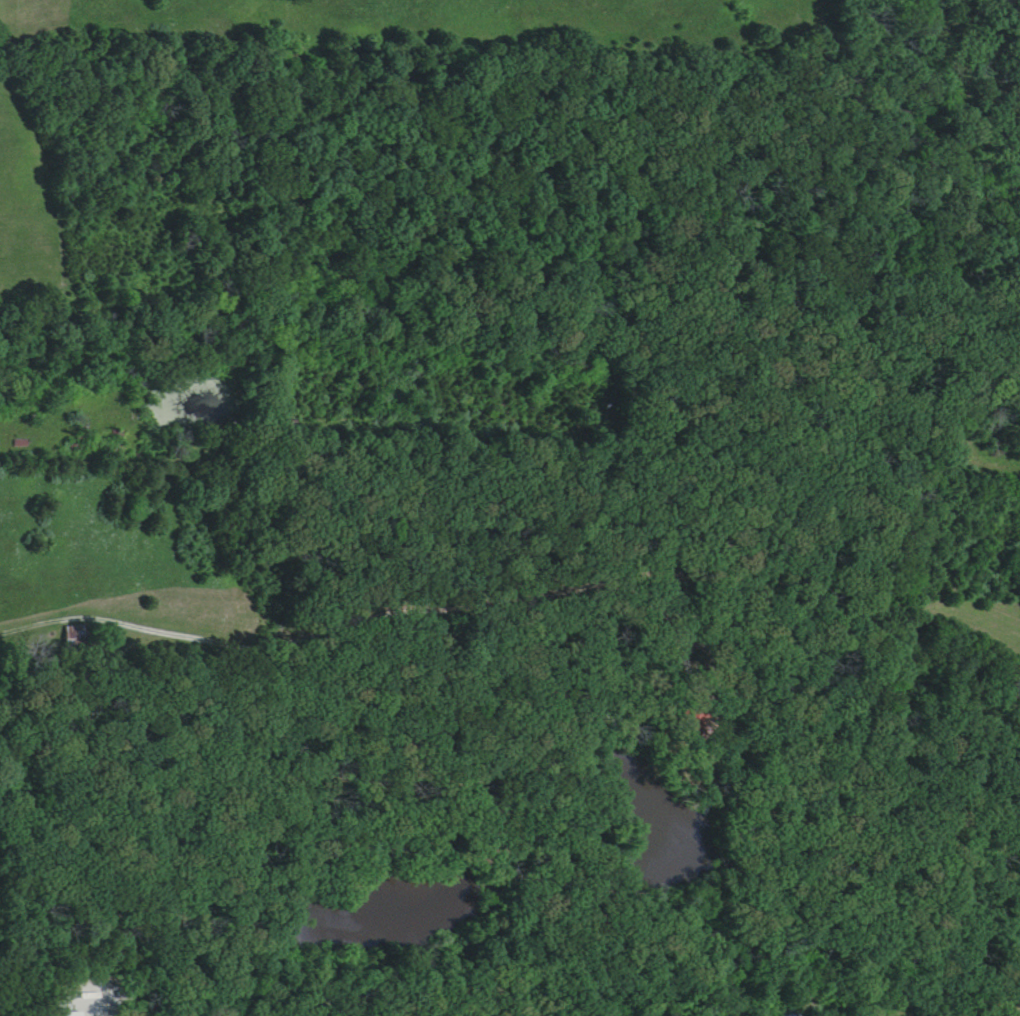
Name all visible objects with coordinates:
road: (111, 620)
building: (76, 637)
road: (111, 1006)
building: (86, 1013)

